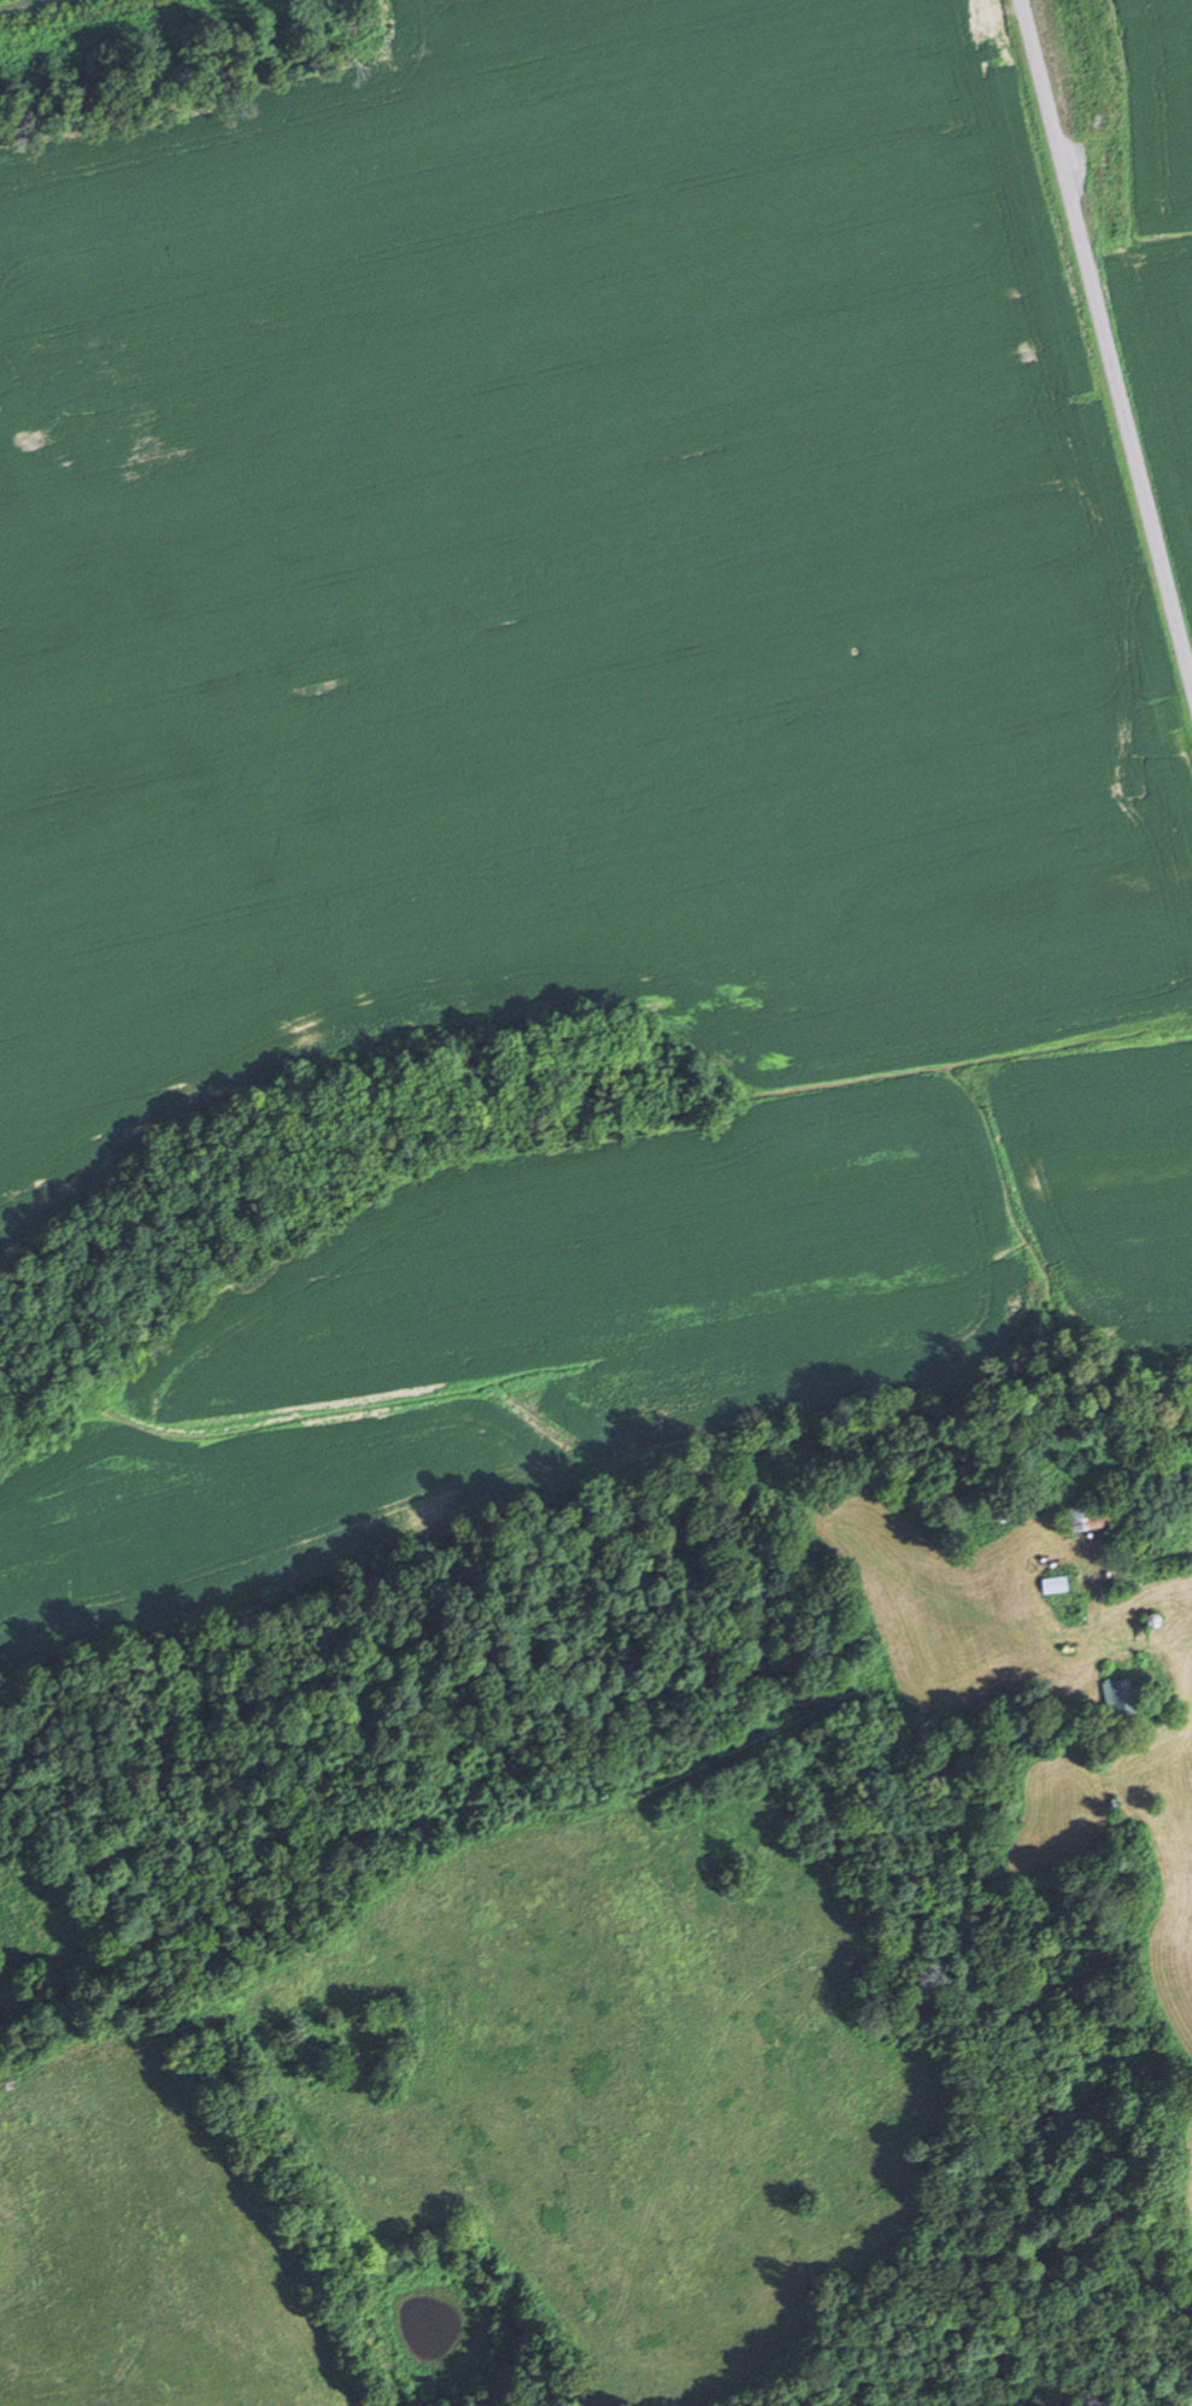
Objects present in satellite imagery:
road: (1106, 343)

